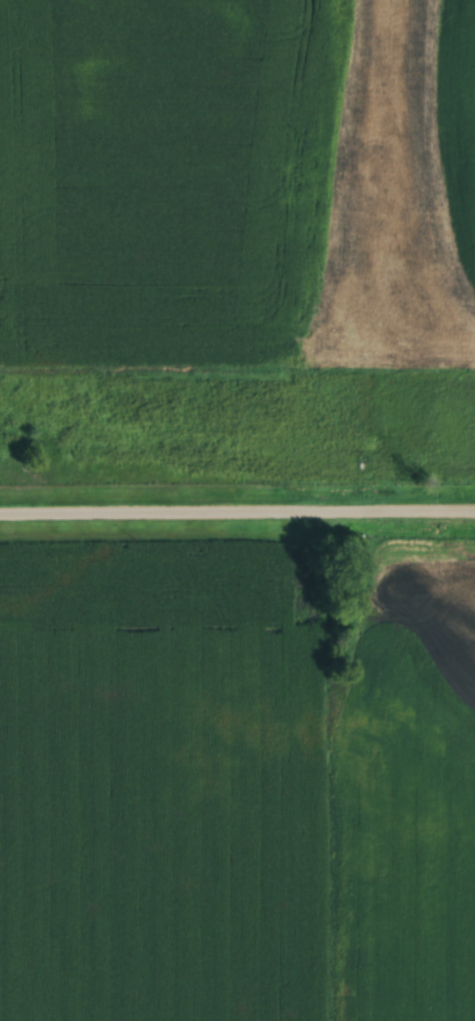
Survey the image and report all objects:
road: (237, 513)

